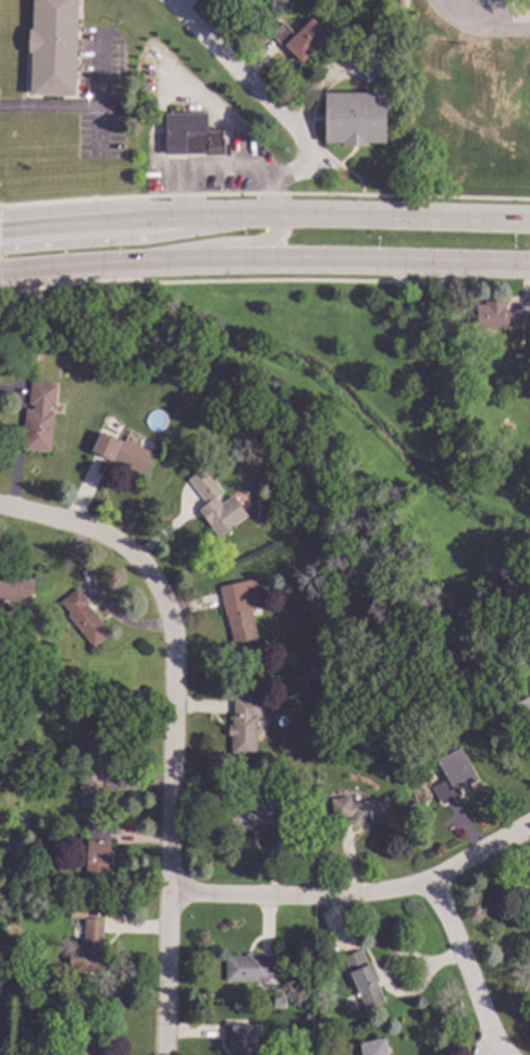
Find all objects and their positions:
building: (281, 3)
road: (508, 21)
road: (469, 35)
building: (297, 38)
building: (51, 48)
road: (244, 76)
parking lot: (99, 94)
road: (99, 94)
road: (49, 107)
road: (210, 107)
building: (355, 119)
building: (189, 135)
road: (207, 172)
road: (273, 177)
road: (264, 194)
road: (264, 218)
road: (218, 243)
road: (264, 260)
building: (400, 314)
building: (496, 316)
building: (81, 341)
building: (118, 365)
building: (39, 417)
building: (127, 456)
park: (348, 457)
building: (213, 507)
building: (311, 539)
building: (15, 590)
building: (241, 609)
building: (84, 617)
building: (528, 650)
building: (525, 711)
building: (245, 726)
road: (171, 727)
building: (10, 728)
building: (96, 765)
building: (453, 776)
building: (361, 811)
building: (259, 818)
building: (97, 852)
road: (355, 898)
building: (528, 901)
building: (74, 911)
building: (88, 948)
building: (250, 968)
building: (331, 968)
road: (466, 969)
building: (363, 978)
building: (9, 990)
building: (25, 1002)
building: (280, 1003)
building: (83, 1034)
building: (239, 1038)
building: (373, 1047)

